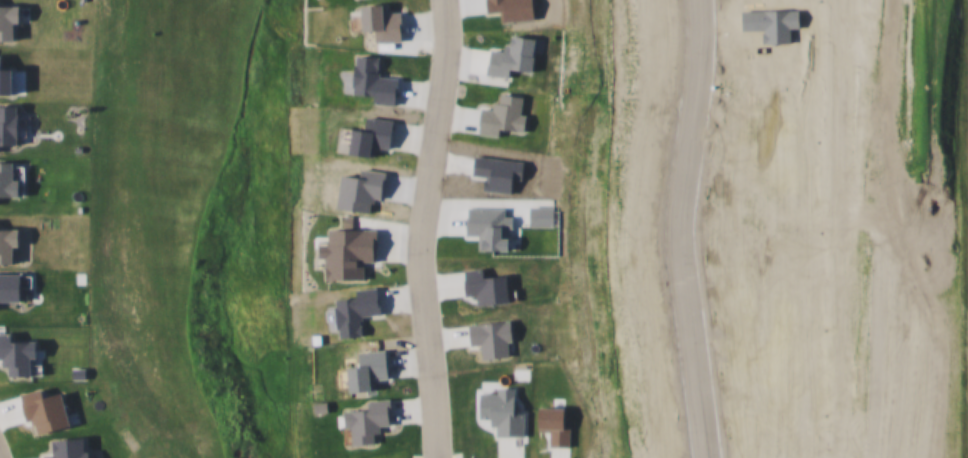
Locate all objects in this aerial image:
road: (414, 228)

